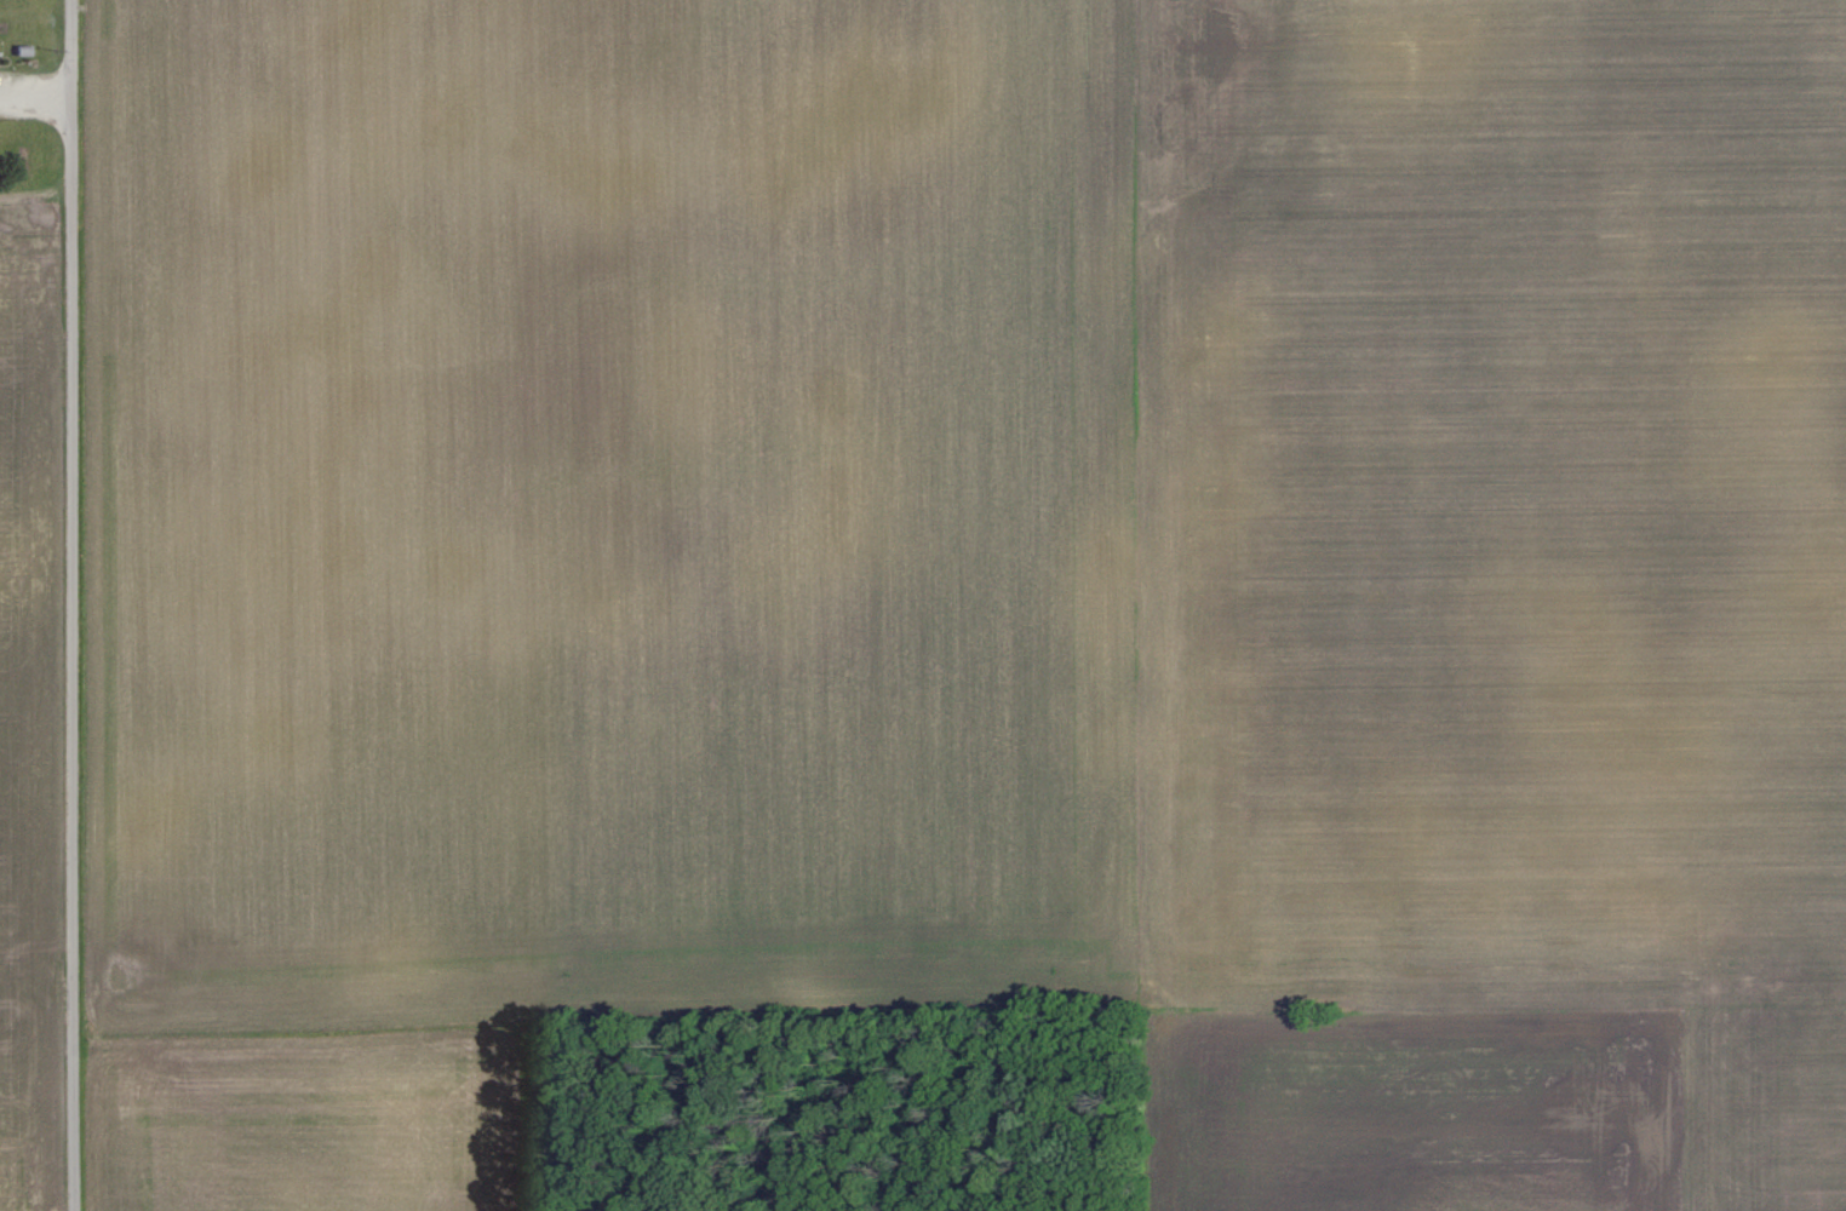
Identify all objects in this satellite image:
road: (33, 103)
road: (67, 604)

